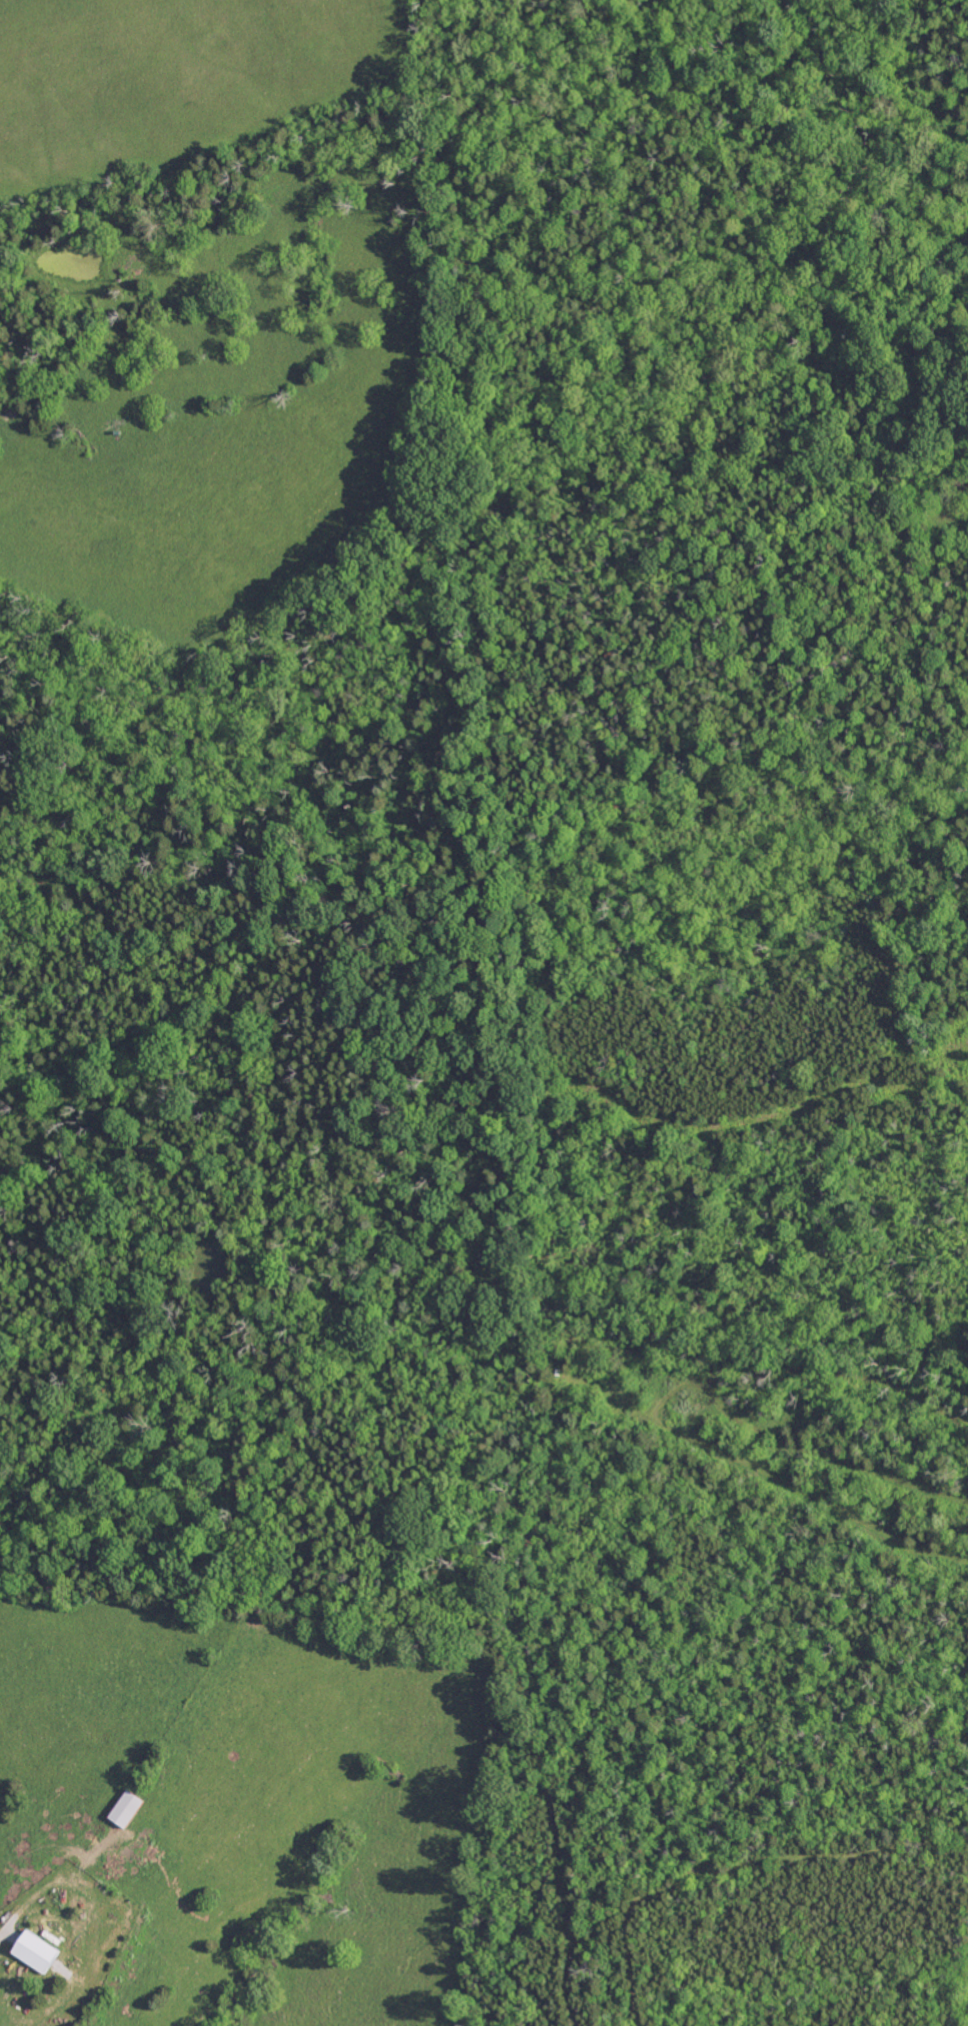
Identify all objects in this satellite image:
building: (125, 1808)
building: (34, 1950)

